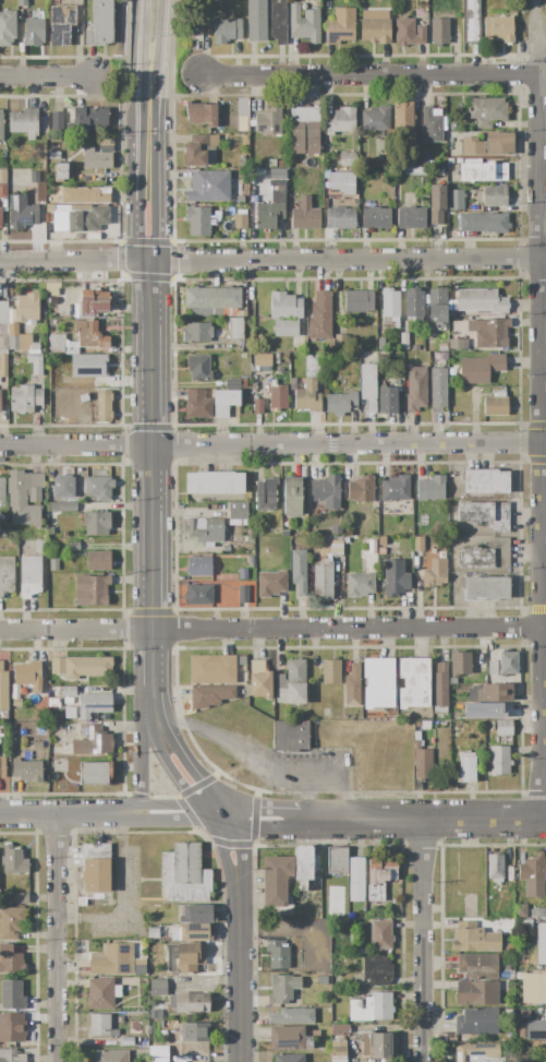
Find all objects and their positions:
building: (21, 9)
road: (533, 11)
road: (142, 20)
building: (256, 21)
building: (472, 21)
building: (278, 22)
building: (100, 24)
building: (304, 24)
building: (62, 25)
building: (8, 27)
building: (341, 27)
building: (34, 28)
building: (498, 29)
building: (227, 31)
building: (375, 31)
building: (438, 32)
building: (409, 33)
road: (162, 48)
road: (138, 68)
road: (373, 72)
road: (46, 79)
road: (109, 96)
road: (186, 96)
building: (486, 110)
building: (201, 114)
building: (89, 117)
building: (375, 118)
building: (403, 119)
building: (57, 120)
building: (340, 120)
building: (269, 121)
building: (24, 122)
road: (136, 123)
building: (1, 126)
building: (432, 126)
building: (313, 129)
building: (106, 144)
building: (488, 144)
building: (201, 151)
building: (53, 155)
building: (96, 159)
building: (348, 159)
building: (424, 162)
building: (241, 163)
building: (271, 163)
building: (281, 164)
building: (415, 170)
building: (61, 171)
building: (483, 171)
building: (35, 177)
road: (159, 180)
building: (341, 181)
building: (3, 183)
building: (209, 187)
building: (85, 194)
building: (493, 196)
building: (240, 199)
building: (456, 200)
building: (437, 203)
road: (134, 207)
building: (271, 207)
building: (24, 212)
building: (305, 215)
building: (340, 217)
building: (411, 217)
building: (0, 218)
building: (86, 218)
building: (376, 218)
building: (197, 220)
building: (240, 222)
building: (469, 223)
building: (495, 224)
road: (272, 261)
building: (52, 289)
building: (359, 300)
building: (94, 301)
building: (213, 301)
building: (481, 301)
building: (414, 303)
building: (390, 305)
building: (437, 305)
building: (26, 308)
building: (286, 313)
building: (319, 315)
building: (3, 326)
building: (235, 329)
building: (196, 332)
building: (489, 332)
building: (89, 334)
building: (20, 341)
building: (404, 341)
building: (57, 342)
building: (340, 342)
building: (457, 345)
building: (262, 360)
building: (35, 362)
building: (3, 365)
building: (198, 368)
building: (481, 369)
building: (98, 379)
building: (231, 383)
building: (292, 383)
building: (57, 385)
building: (368, 386)
building: (416, 389)
building: (438, 390)
building: (59, 392)
building: (277, 396)
building: (307, 397)
building: (25, 398)
building: (387, 401)
building: (223, 402)
building: (0, 404)
building: (197, 404)
building: (341, 404)
building: (496, 405)
building: (104, 406)
building: (257, 406)
road: (545, 420)
road: (272, 445)
building: (485, 481)
building: (214, 482)
building: (98, 488)
building: (396, 488)
building: (430, 488)
building: (361, 489)
building: (2, 490)
building: (326, 491)
building: (266, 494)
building: (291, 496)
building: (24, 498)
building: (80, 498)
building: (61, 506)
building: (238, 513)
building: (485, 514)
road: (545, 517)
building: (367, 520)
building: (96, 523)
building: (49, 530)
building: (204, 530)
building: (336, 530)
building: (286, 533)
building: (11, 544)
building: (417, 545)
building: (40, 547)
building: (72, 547)
building: (381, 548)
building: (347, 556)
building: (485, 556)
building: (97, 561)
building: (251, 561)
building: (53, 563)
building: (326, 564)
building: (198, 566)
building: (299, 571)
building: (242, 573)
building: (435, 573)
building: (7, 575)
building: (29, 576)
building: (395, 577)
building: (270, 583)
building: (360, 584)
building: (90, 589)
building: (487, 589)
building: (198, 595)
building: (243, 595)
road: (545, 625)
road: (271, 630)
building: (241, 660)
building: (508, 663)
building: (459, 666)
building: (81, 667)
building: (493, 668)
building: (211, 670)
building: (330, 671)
road: (153, 672)
building: (28, 677)
building: (259, 680)
building: (378, 682)
building: (292, 683)
building: (413, 683)
building: (3, 688)
building: (352, 688)
building: (440, 688)
building: (69, 691)
building: (494, 693)
building: (209, 696)
building: (68, 701)
building: (16, 703)
building: (93, 704)
building: (501, 711)
building: (70, 713)
building: (502, 727)
building: (2, 731)
building: (289, 736)
building: (95, 741)
building: (37, 744)
road: (234, 744)
building: (499, 761)
building: (422, 762)
road: (143, 763)
building: (2, 766)
building: (468, 767)
building: (27, 771)
building: (94, 774)
road: (310, 792)
road: (22, 814)
road: (94, 814)
road: (344, 819)
building: (13, 860)
building: (338, 860)
building: (304, 867)
building: (95, 868)
building: (495, 868)
building: (183, 874)
building: (533, 875)
building: (379, 878)
building: (276, 879)
building: (356, 879)
building: (21, 898)
building: (82, 903)
building: (519, 910)
building: (537, 912)
building: (196, 914)
building: (11, 922)
building: (527, 924)
building: (191, 932)
building: (150, 933)
building: (380, 935)
road: (48, 938)
building: (476, 939)
road: (422, 940)
building: (542, 944)
building: (278, 954)
building: (184, 957)
building: (10, 959)
building: (116, 960)
building: (478, 966)
building: (375, 971)
building: (143, 981)
building: (158, 987)
building: (533, 988)
building: (282, 989)
building: (101, 993)
building: (11, 994)
building: (477, 994)
building: (190, 1003)
building: (372, 1009)
building: (156, 1015)
building: (524, 1015)
building: (292, 1016)
building: (477, 1022)
building: (99, 1025)
building: (13, 1028)
building: (339, 1029)
building: (533, 1029)
building: (194, 1033)
building: (291, 1038)
building: (126, 1040)
building: (376, 1046)
building: (338, 1051)
building: (477, 1053)
building: (158, 1054)
building: (11, 1055)
building: (111, 1055)
building: (289, 1058)

